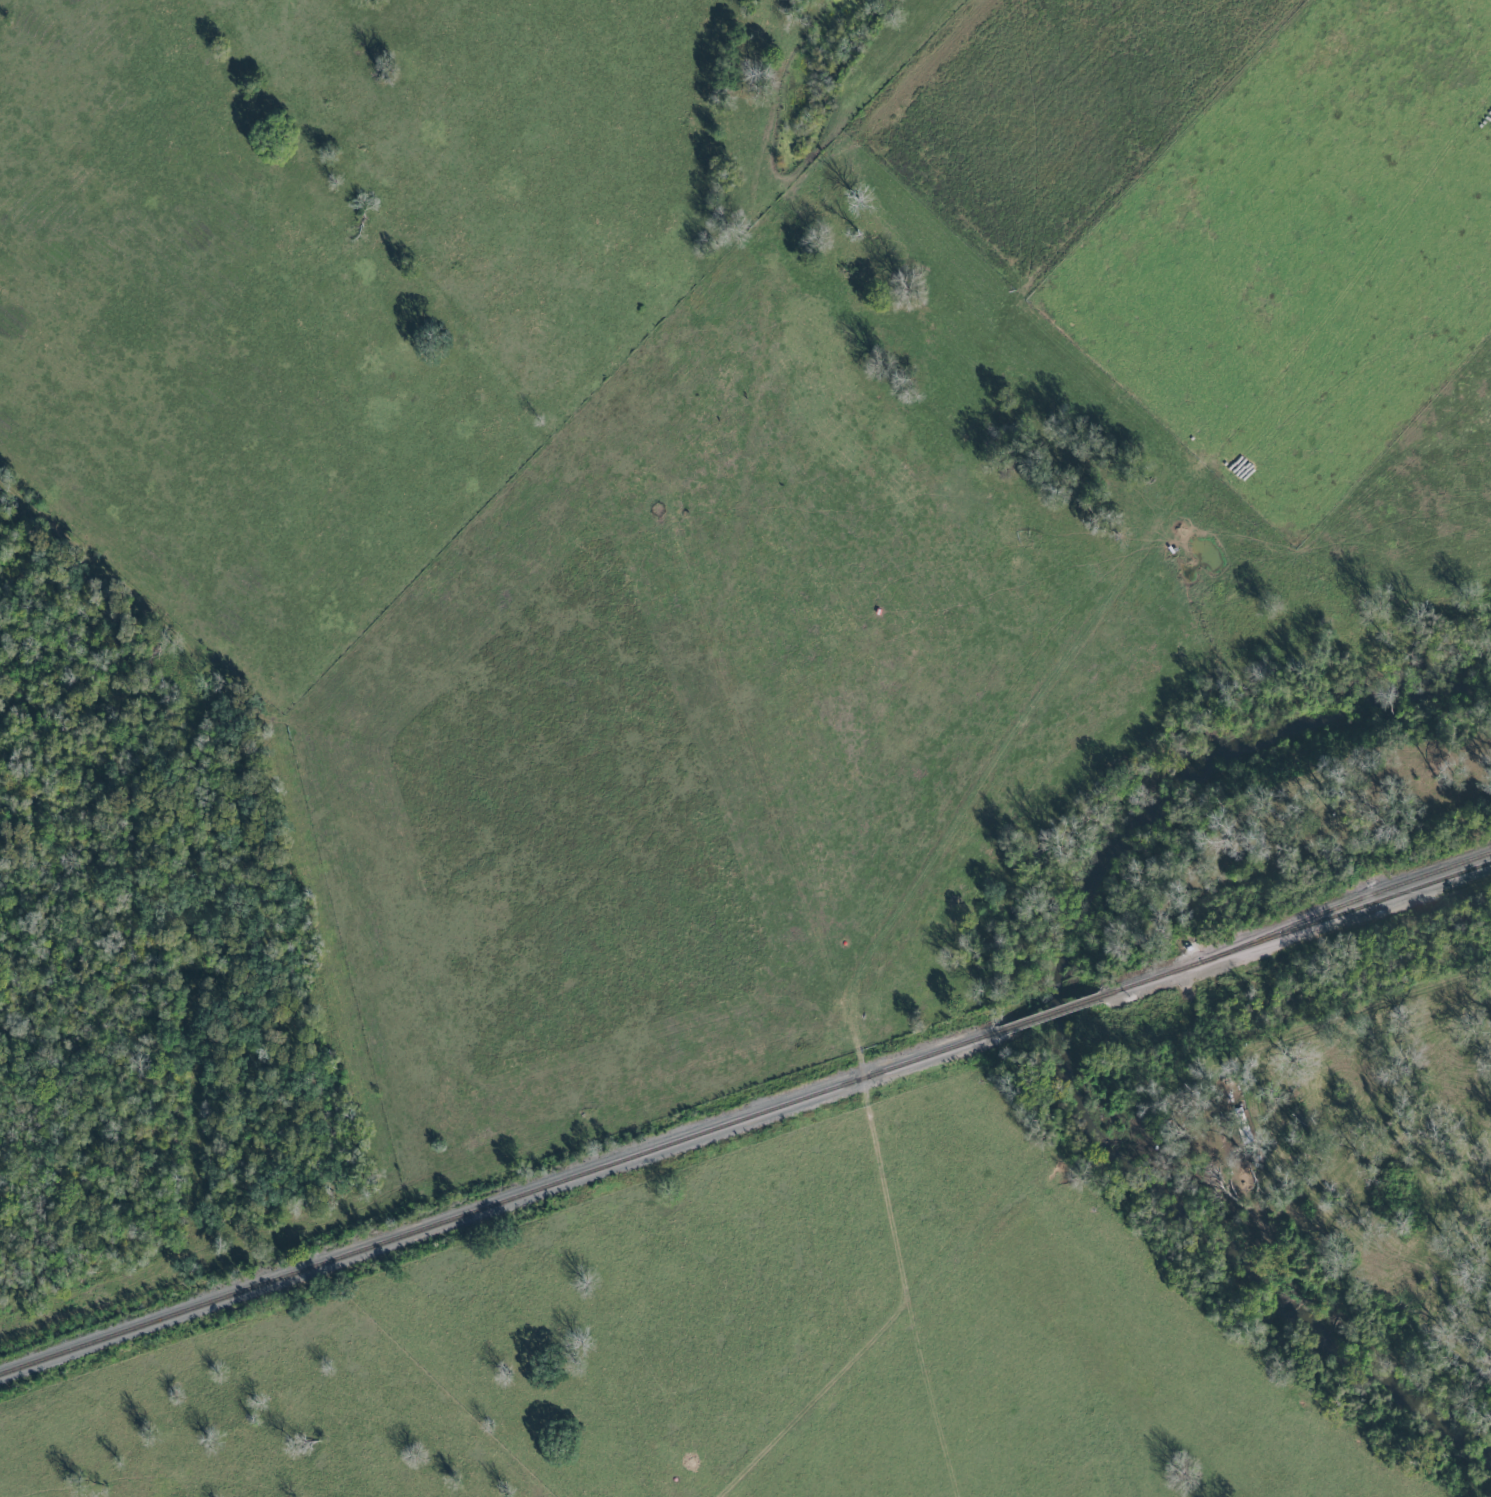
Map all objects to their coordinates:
railway: (1342, 906)
railway: (745, 1117)
road: (908, 1313)

